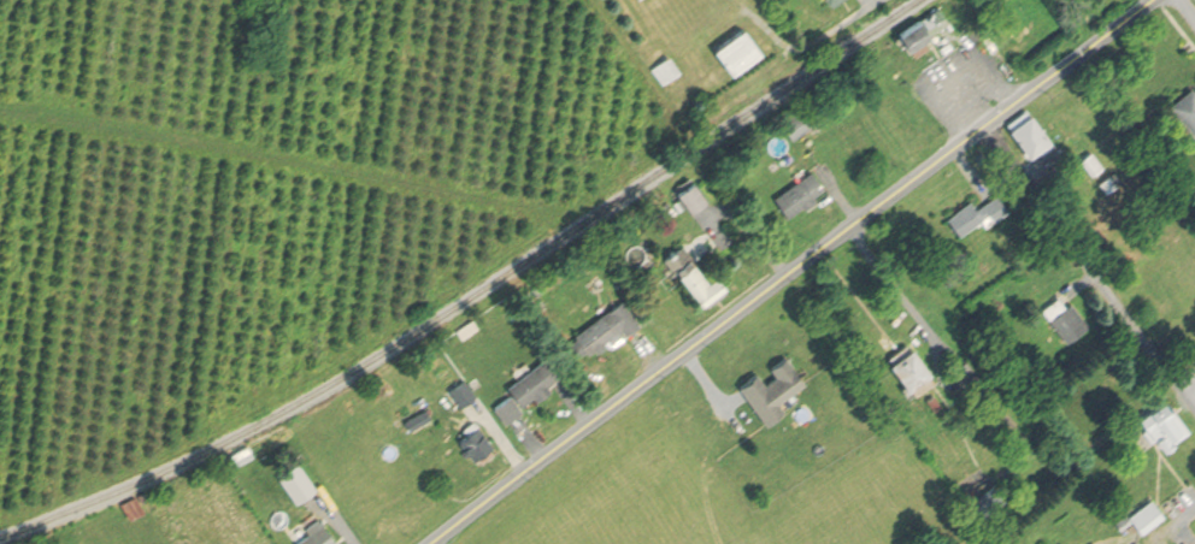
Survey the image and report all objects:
road: (1187, 10)
building: (919, 23)
road: (806, 47)
building: (1184, 106)
road: (278, 162)
road: (1087, 262)
road: (787, 273)
railway: (472, 292)
road: (934, 333)
road: (1188, 380)
road: (430, 543)

